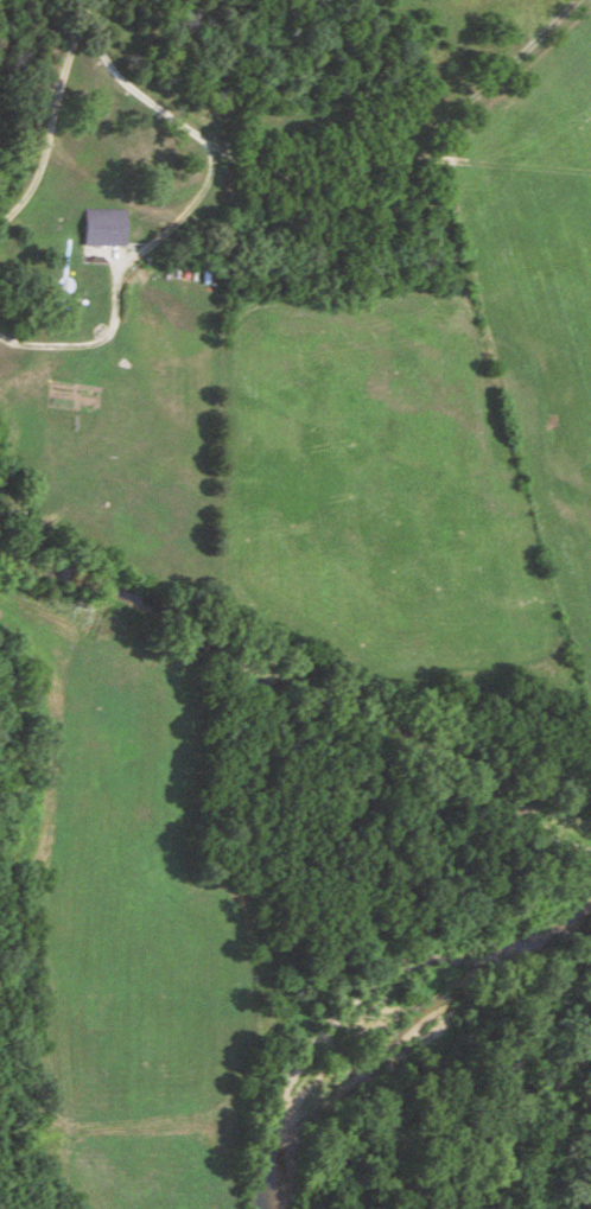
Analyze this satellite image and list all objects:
road: (50, 119)
road: (318, 182)
road: (117, 281)

